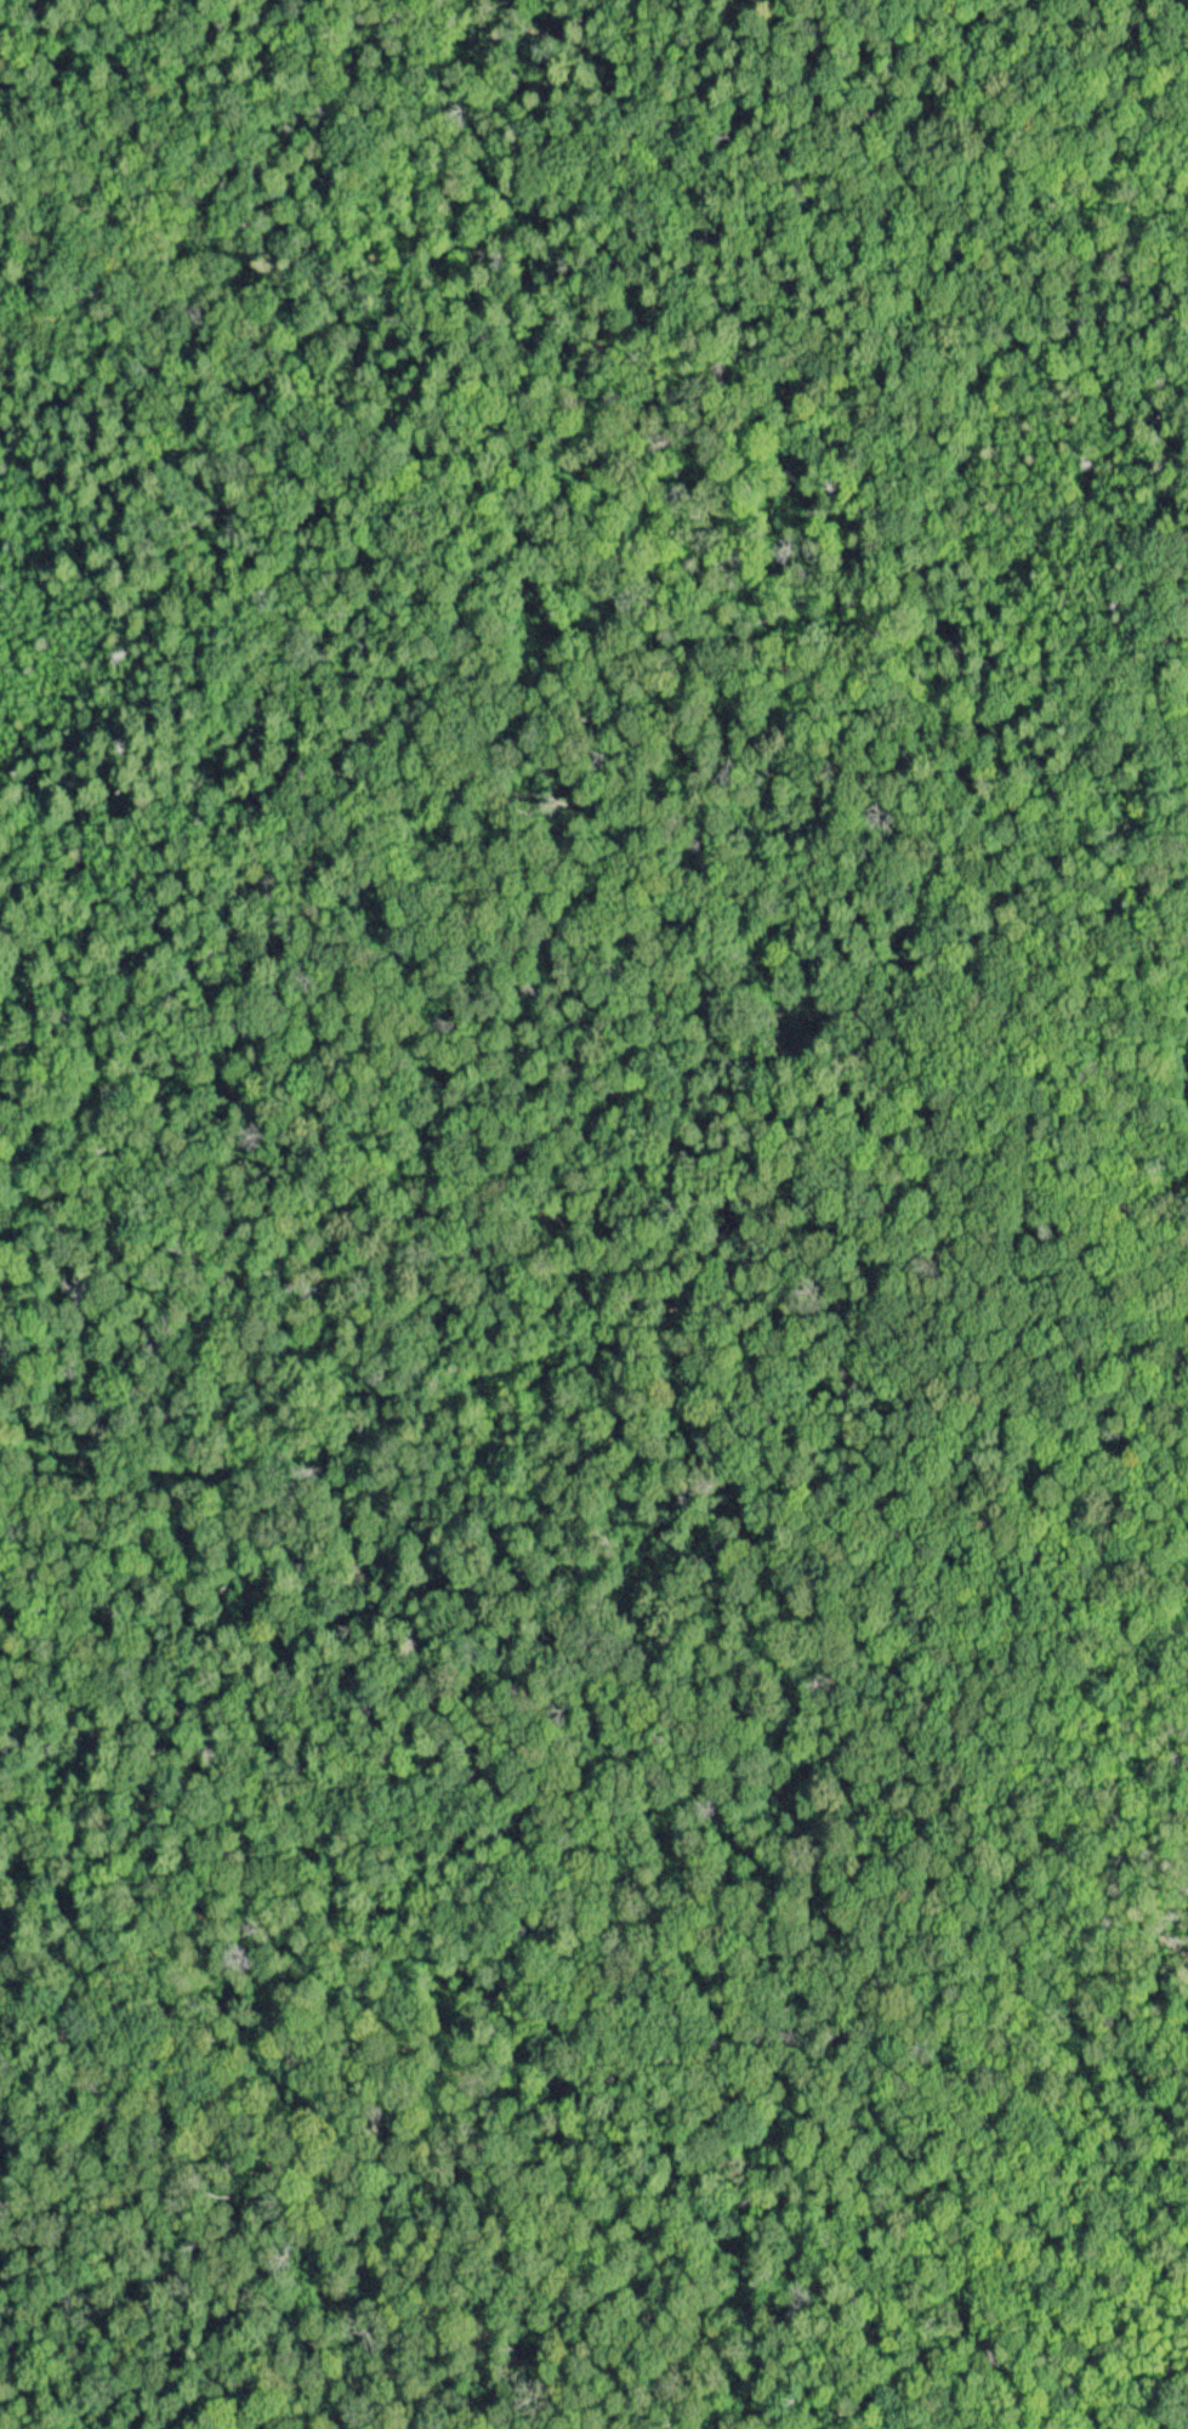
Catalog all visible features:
road: (561, 804)

